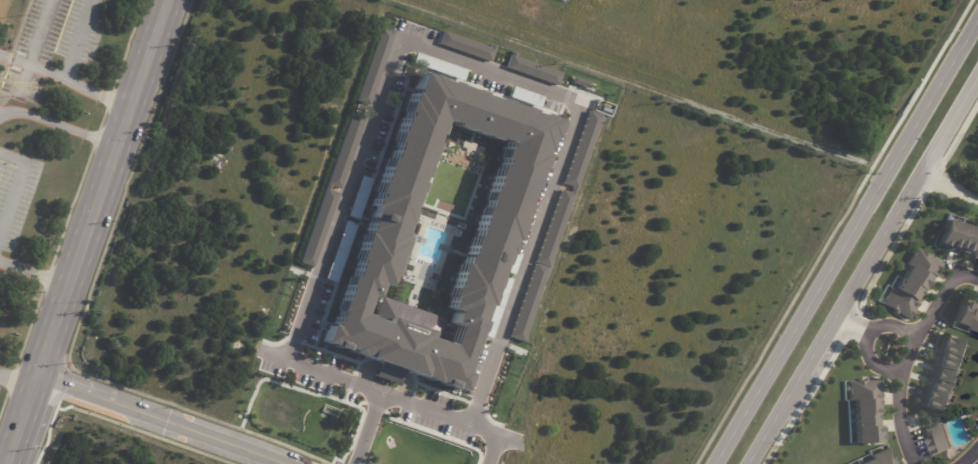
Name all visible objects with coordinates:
road: (40, 35)
parking lot: (61, 38)
road: (76, 41)
building: (466, 45)
road: (403, 47)
building: (375, 65)
building: (533, 68)
road: (632, 81)
road: (68, 85)
road: (935, 104)
road: (62, 125)
building: (582, 148)
building: (334, 181)
road: (951, 190)
road: (16, 191)
parking lot: (16, 202)
building: (494, 230)
road: (94, 232)
building: (960, 237)
building: (344, 238)
building: (511, 262)
building: (541, 265)
road: (37, 274)
road: (863, 280)
building: (916, 288)
building: (495, 306)
road: (805, 317)
building: (970, 318)
park: (12, 338)
road: (917, 338)
building: (945, 375)
road: (20, 385)
road: (900, 409)
building: (868, 413)
road: (164, 424)
road: (364, 430)
road: (493, 436)
building: (939, 440)
road: (969, 454)
building: (881, 460)

